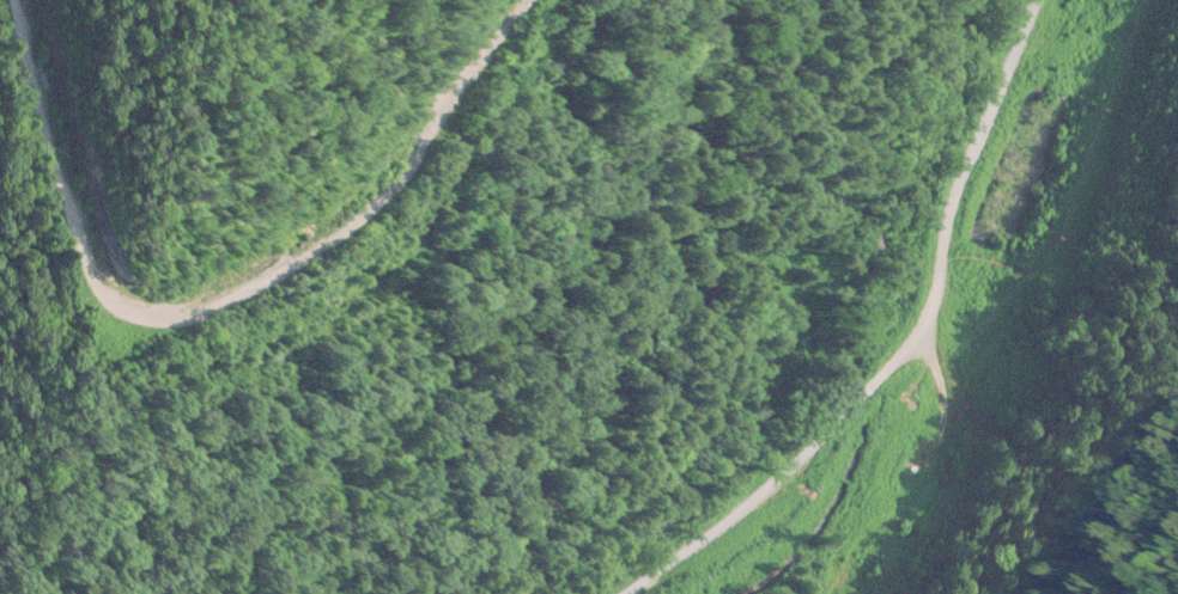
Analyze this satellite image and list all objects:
road: (870, 327)

